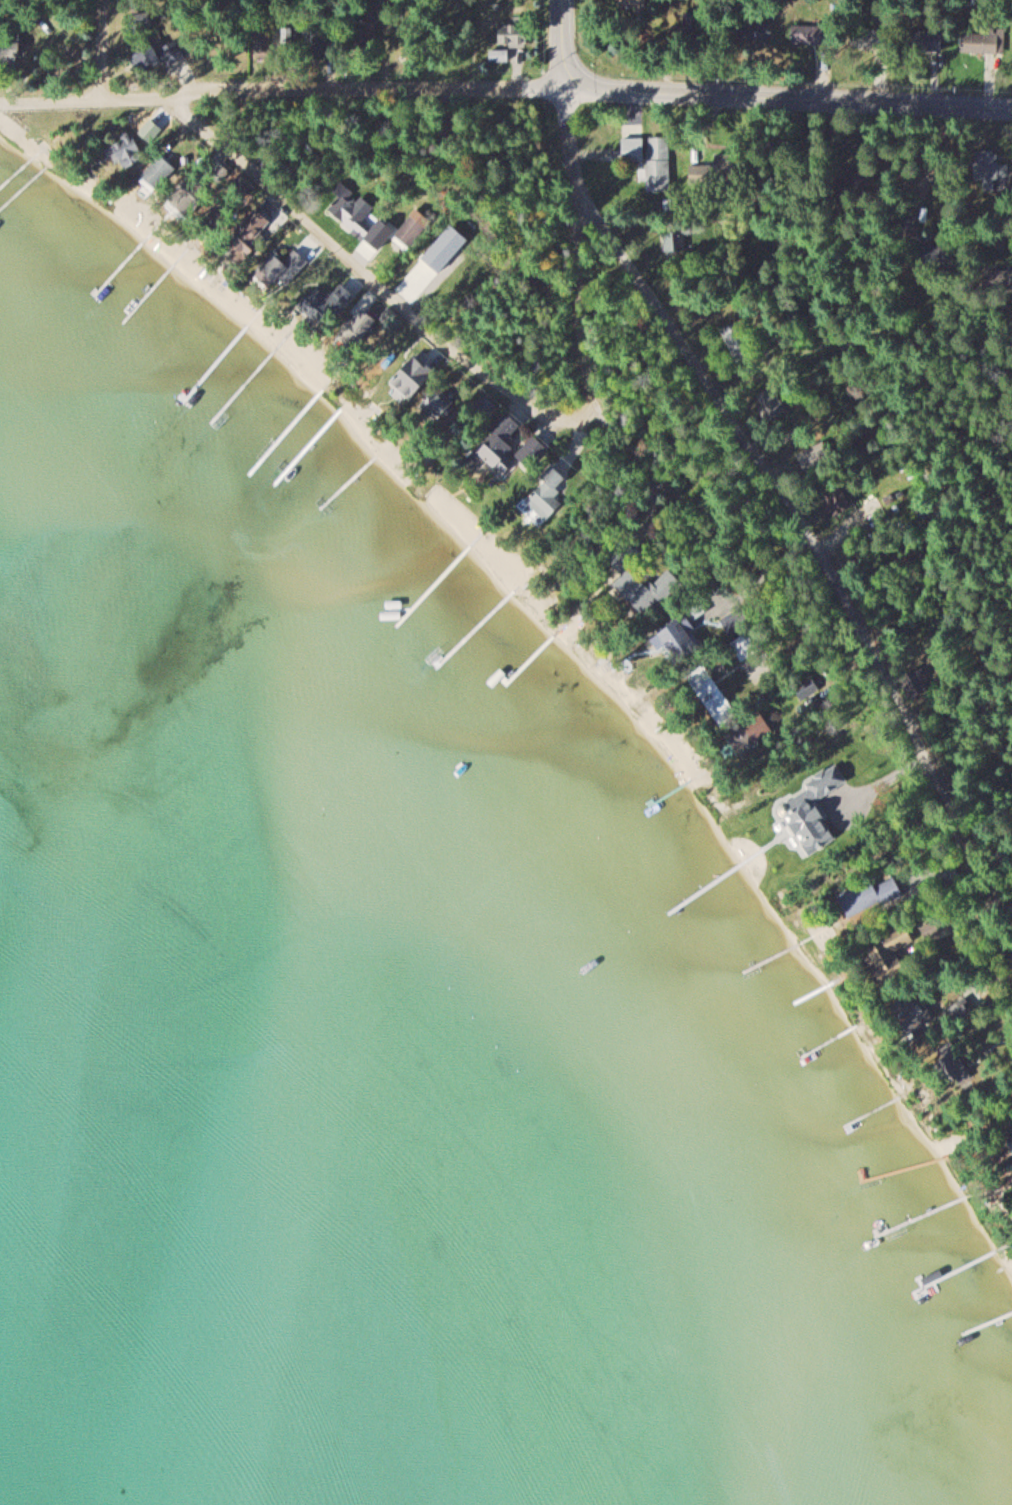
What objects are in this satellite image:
building: (635, 3)
building: (753, 31)
building: (365, 33)
building: (807, 36)
building: (290, 38)
building: (314, 39)
building: (868, 39)
building: (924, 41)
building: (985, 42)
road: (562, 45)
building: (157, 57)
building: (500, 57)
road: (100, 72)
road: (355, 90)
road: (787, 98)
building: (634, 149)
building: (129, 152)
building: (659, 163)
building: (993, 171)
building: (222, 172)
building: (155, 177)
building: (242, 189)
building: (182, 203)
building: (358, 216)
building: (248, 233)
building: (675, 237)
road: (575, 259)
building: (285, 267)
road: (356, 267)
building: (335, 274)
building: (322, 301)
building: (360, 328)
building: (404, 376)
building: (437, 404)
building: (771, 404)
building: (487, 408)
building: (499, 440)
building: (532, 453)
building: (816, 458)
road: (914, 483)
building: (549, 493)
building: (841, 499)
road: (796, 516)
building: (639, 592)
building: (678, 634)
building: (916, 682)
building: (749, 730)
building: (871, 897)
building: (883, 956)
building: (914, 1012)
building: (1011, 1121)

